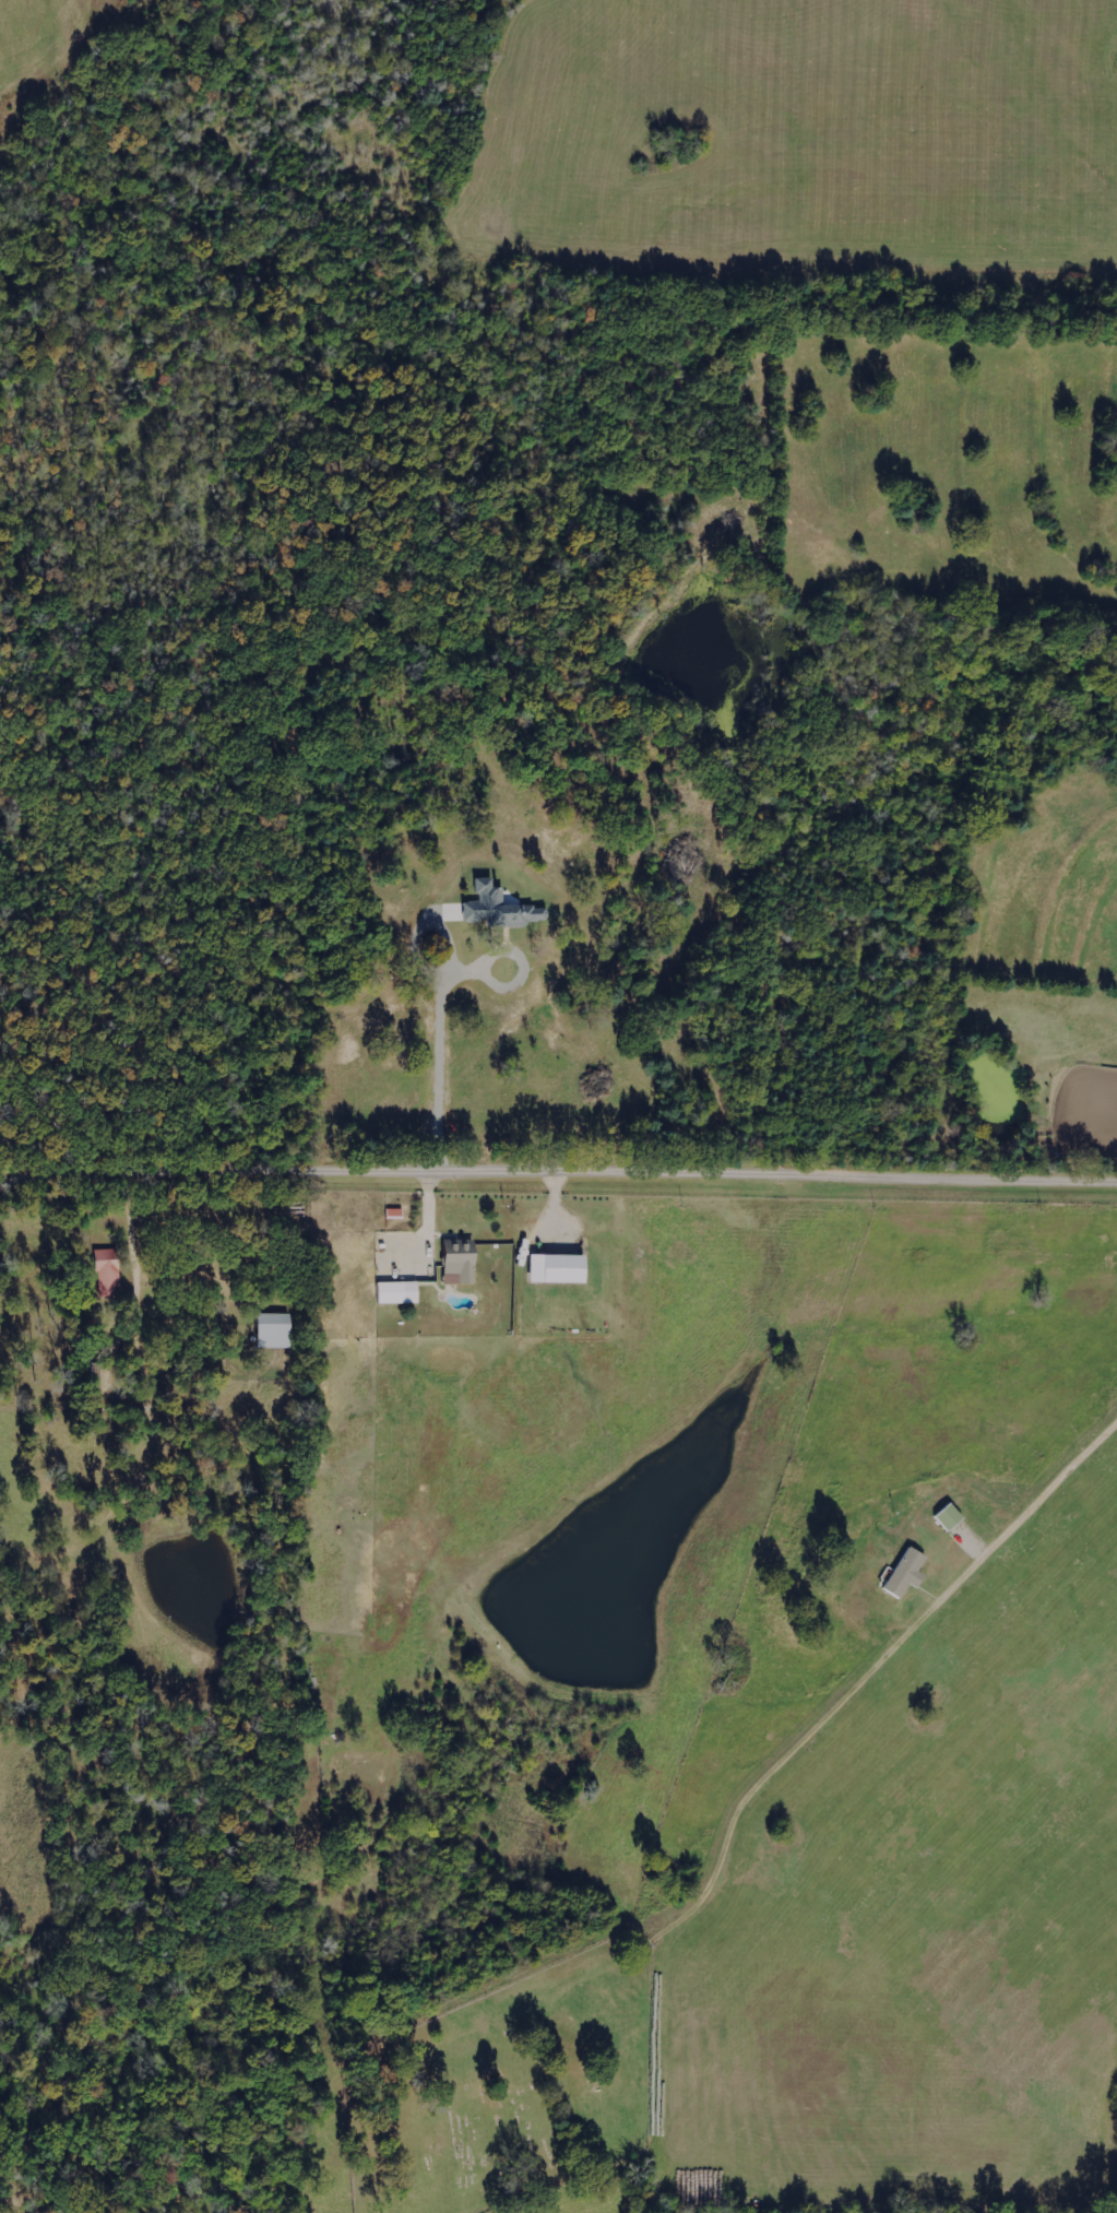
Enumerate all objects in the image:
building: (499, 908)
road: (557, 1148)
building: (456, 1264)
building: (552, 1268)
building: (106, 1270)
building: (395, 1292)
building: (272, 1330)
building: (947, 1517)
building: (903, 1573)
road: (876, 1673)
park: (503, 2092)

